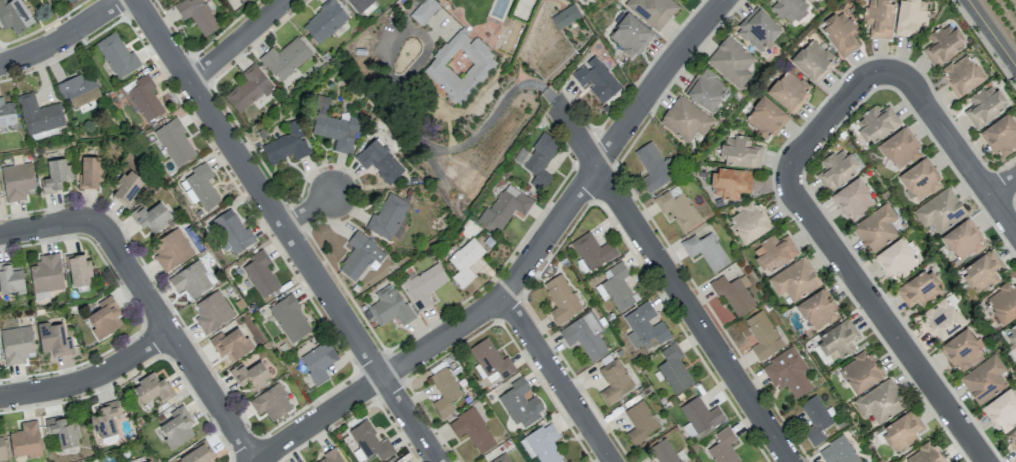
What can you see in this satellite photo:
building: (241, 0)
building: (680, 0)
building: (70, 1)
building: (359, 4)
building: (790, 10)
building: (652, 11)
building: (425, 12)
building: (14, 15)
building: (197, 15)
building: (565, 16)
building: (911, 17)
building: (879, 18)
building: (325, 21)
building: (757, 29)
road: (992, 32)
building: (840, 33)
building: (630, 35)
road: (63, 38)
road: (238, 41)
building: (943, 44)
building: (117, 55)
building: (285, 58)
building: (812, 60)
building: (731, 61)
building: (460, 66)
building: (962, 75)
building: (596, 79)
building: (248, 88)
building: (706, 89)
building: (77, 90)
building: (789, 91)
building: (984, 105)
building: (6, 113)
building: (39, 114)
building: (765, 118)
building: (685, 119)
road: (831, 120)
building: (876, 124)
building: (334, 126)
building: (1000, 135)
building: (174, 142)
building: (286, 144)
road: (958, 146)
road: (451, 148)
building: (900, 148)
building: (739, 152)
building: (540, 160)
building: (380, 161)
building: (654, 167)
building: (90, 172)
building: (56, 175)
building: (919, 180)
building: (17, 181)
building: (730, 182)
building: (126, 187)
building: (200, 187)
road: (1005, 188)
building: (853, 199)
building: (504, 208)
building: (677, 209)
road: (308, 210)
building: (940, 210)
building: (387, 216)
building: (151, 217)
building: (749, 222)
road: (49, 227)
building: (876, 228)
building: (233, 231)
road: (286, 231)
building: (962, 241)
building: (171, 249)
building: (706, 250)
building: (593, 251)
building: (773, 252)
building: (361, 256)
building: (897, 258)
building: (465, 261)
road: (525, 267)
building: (78, 269)
building: (984, 270)
building: (46, 273)
building: (260, 273)
building: (10, 278)
building: (191, 279)
building: (794, 279)
road: (674, 283)
building: (424, 285)
building: (616, 286)
building: (919, 289)
building: (733, 293)
building: (561, 299)
building: (1003, 302)
building: (389, 306)
building: (817, 310)
building: (212, 311)
building: (104, 317)
building: (289, 318)
building: (942, 319)
road: (891, 325)
building: (644, 327)
building: (1012, 333)
building: (585, 335)
building: (763, 335)
building: (53, 339)
building: (838, 340)
road: (178, 341)
building: (17, 344)
building: (231, 344)
building: (962, 350)
building: (318, 361)
building: (491, 361)
building: (673, 368)
building: (788, 372)
building: (859, 373)
building: (250, 375)
road: (557, 379)
building: (984, 379)
road: (92, 381)
building: (614, 381)
building: (152, 388)
building: (444, 391)
building: (271, 402)
building: (880, 402)
building: (521, 403)
building: (1002, 410)
building: (699, 415)
building: (105, 419)
building: (814, 419)
building: (640, 421)
building: (176, 428)
building: (472, 429)
building: (63, 431)
building: (902, 431)
building: (1012, 439)
building: (25, 440)
building: (370, 441)
building: (542, 444)
building: (723, 447)
building: (2, 448)
building: (663, 451)
building: (838, 451)
building: (198, 454)
building: (924, 454)
building: (330, 457)
building: (501, 458)
building: (147, 461)

